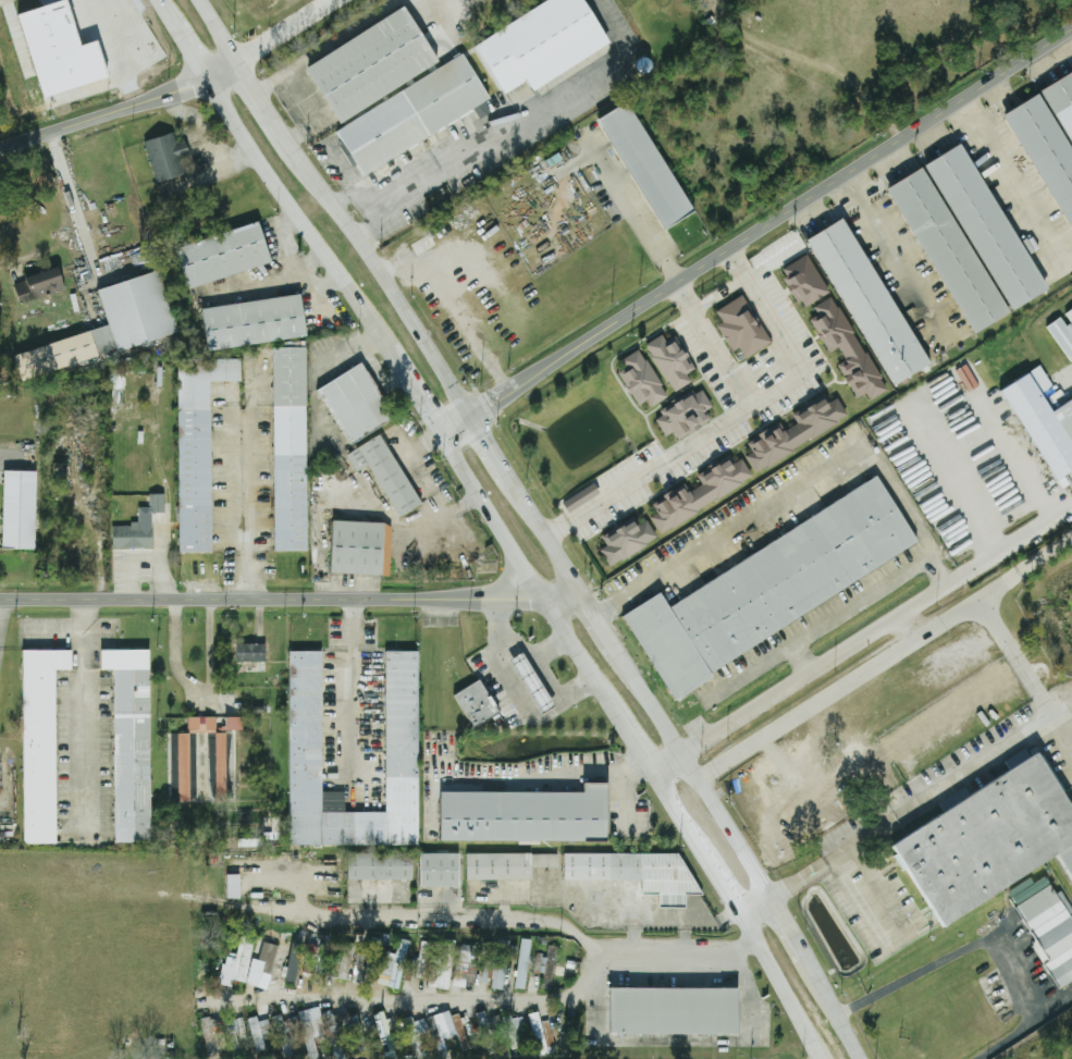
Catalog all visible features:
road: (157, 2)
road: (443, 5)
road: (108, 32)
road: (282, 32)
road: (214, 34)
road: (183, 42)
building: (538, 42)
road: (329, 47)
building: (61, 51)
building: (368, 63)
road: (258, 100)
building: (1060, 101)
road: (118, 108)
building: (410, 114)
road: (526, 125)
building: (1043, 150)
building: (165, 158)
building: (642, 165)
road: (337, 169)
road: (1010, 177)
road: (70, 197)
road: (361, 206)
road: (295, 217)
road: (634, 218)
road: (771, 223)
building: (983, 226)
building: (946, 250)
building: (224, 254)
road: (898, 256)
road: (29, 258)
road: (736, 260)
road: (299, 262)
road: (378, 273)
road: (269, 278)
road: (750, 281)
building: (804, 281)
building: (39, 284)
building: (865, 298)
road: (452, 307)
building: (255, 321)
building: (120, 322)
building: (742, 327)
building: (1063, 333)
building: (846, 347)
building: (670, 360)
building: (641, 379)
road: (414, 394)
road: (757, 402)
building: (354, 405)
building: (683, 416)
traffic signals: (469, 417)
building: (1042, 418)
road: (454, 426)
building: (796, 431)
traffic signals: (440, 434)
building: (196, 447)
building: (288, 450)
road: (678, 453)
road: (493, 457)
road: (1015, 458)
building: (383, 475)
road: (963, 487)
road: (250, 489)
building: (700, 494)
road: (798, 495)
building: (580, 497)
building: (155, 498)
building: (20, 509)
road: (590, 509)
road: (558, 529)
building: (131, 537)
building: (626, 542)
road: (545, 543)
building: (359, 549)
road: (159, 564)
road: (1026, 567)
building: (789, 571)
road: (528, 575)
road: (130, 579)
road: (287, 600)
road: (847, 609)
road: (593, 623)
road: (909, 626)
road: (877, 629)
road: (512, 632)
road: (3, 640)
building: (664, 644)
building: (248, 652)
road: (884, 658)
road: (537, 664)
road: (748, 675)
building: (531, 682)
road: (199, 688)
road: (359, 695)
road: (518, 697)
building: (475, 704)
road: (1048, 705)
road: (91, 710)
building: (233, 723)
building: (399, 732)
road: (1048, 736)
building: (38, 741)
building: (128, 742)
road: (632, 743)
building: (200, 762)
road: (665, 763)
road: (543, 774)
road: (692, 775)
road: (938, 796)
building: (525, 816)
building: (986, 839)
building: (505, 865)
building: (378, 866)
building: (438, 870)
building: (636, 873)
building: (233, 886)
road: (784, 889)
road: (735, 913)
road: (531, 919)
building: (1044, 925)
road: (783, 931)
road: (902, 939)
road: (985, 948)
building: (266, 953)
building: (241, 959)
building: (420, 959)
building: (547, 960)
building: (292, 962)
building: (370, 962)
building: (315, 963)
building: (340, 963)
building: (445, 963)
building: (521, 963)
building: (396, 964)
building: (495, 965)
building: (467, 966)
building: (281, 968)
building: (361, 970)
road: (415, 998)
road: (827, 1010)
building: (673, 1011)
building: (343, 1021)
building: (419, 1027)
building: (357, 1030)
building: (305, 1032)
building: (458, 1032)
building: (257, 1033)
building: (484, 1033)
building: (510, 1033)
building: (208, 1034)
building: (230, 1034)
building: (435, 1034)
building: (537, 1034)
building: (331, 1035)
building: (410, 1035)
building: (281, 1036)
building: (382, 1036)

